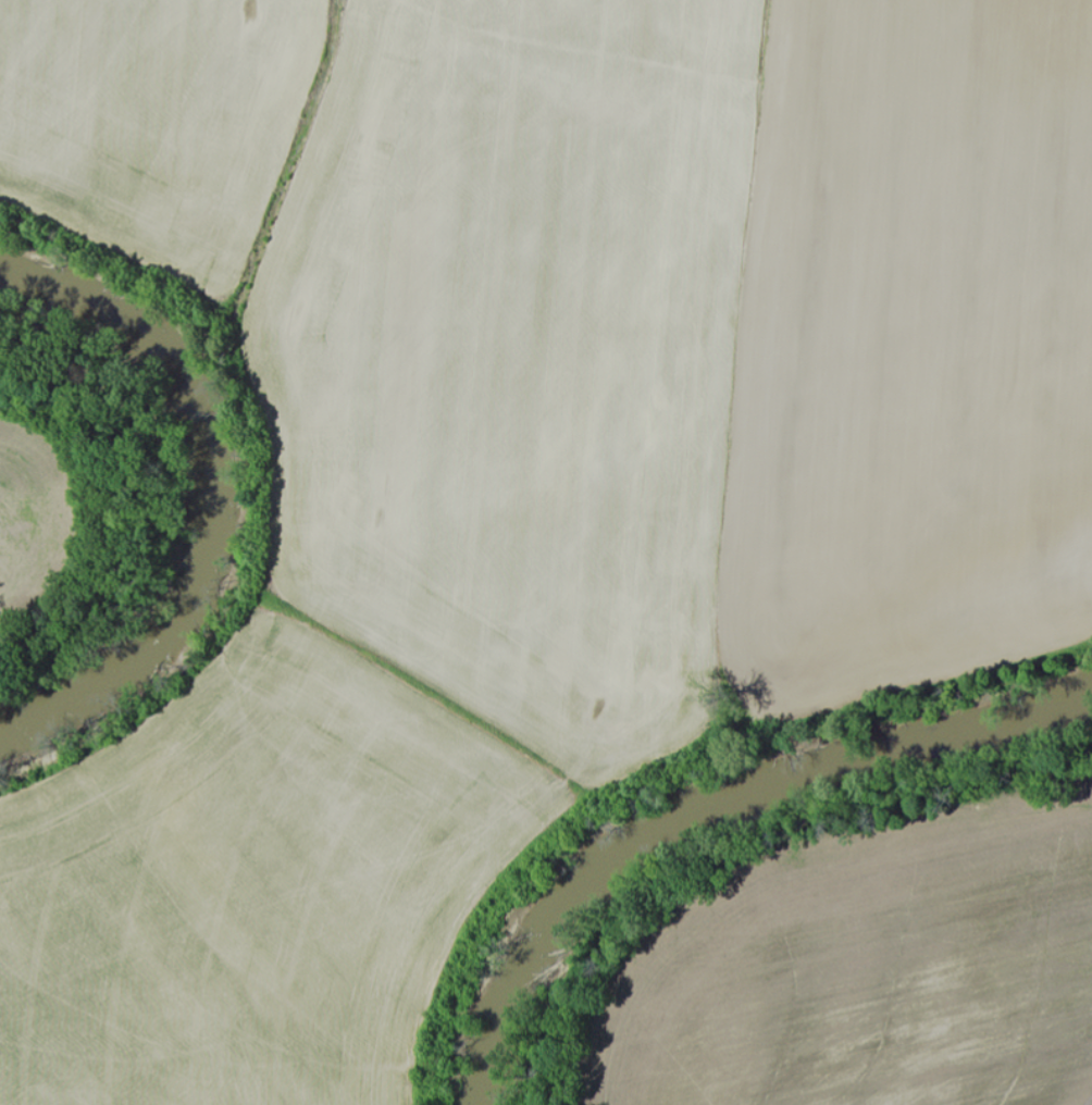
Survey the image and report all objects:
road: (5, 201)
river: (196, 491)
river: (707, 809)

